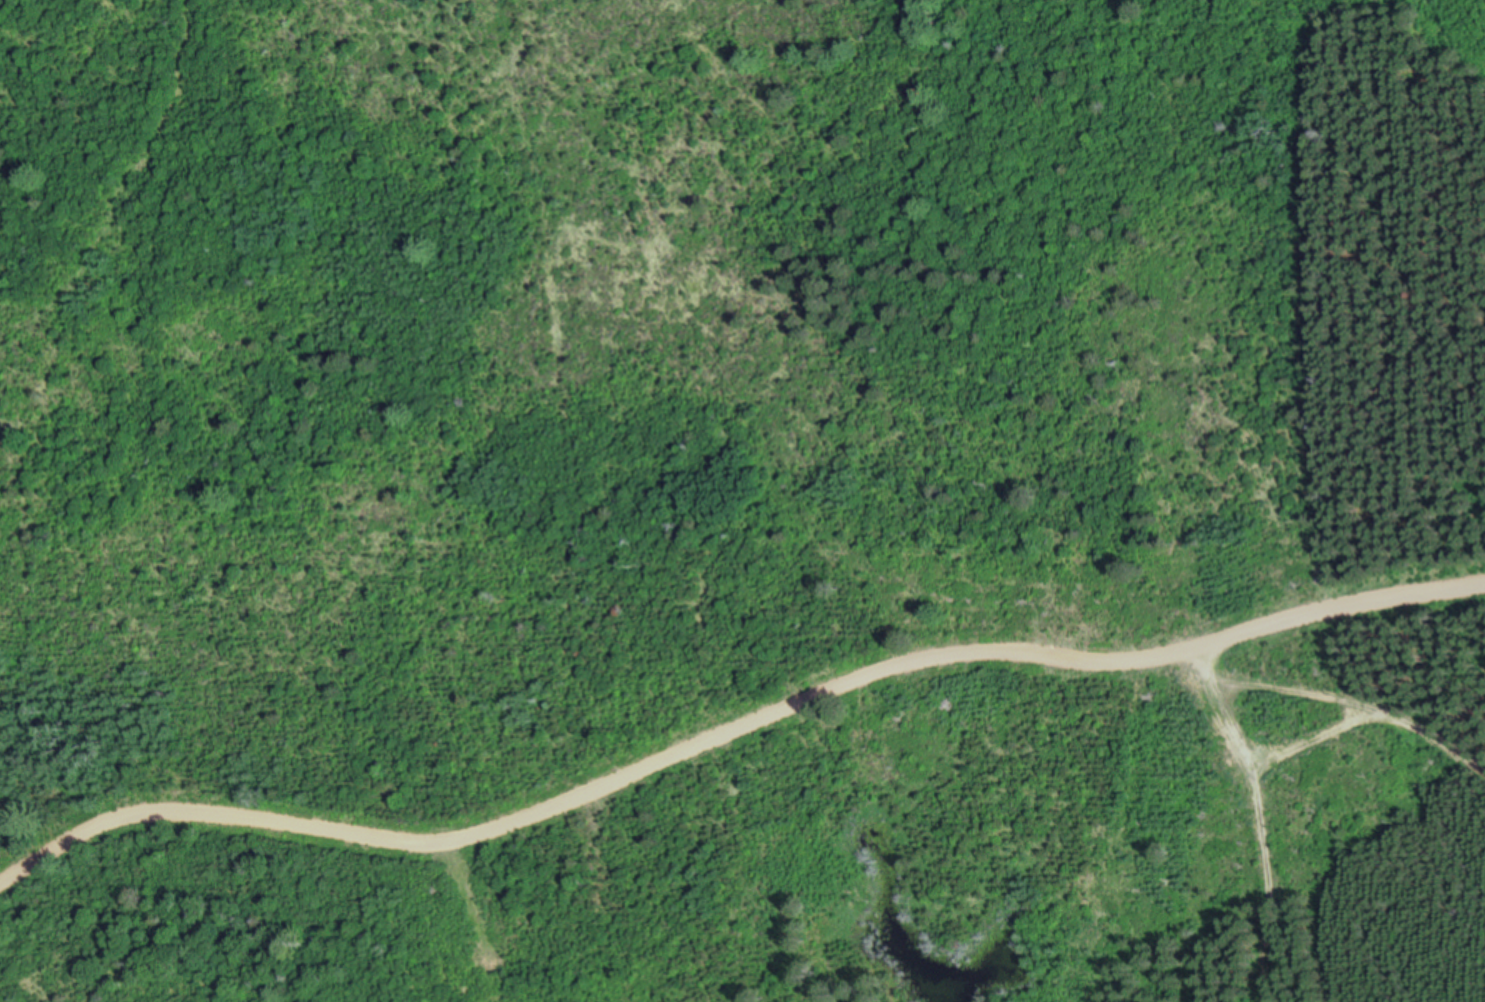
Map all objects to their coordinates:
road: (733, 740)

